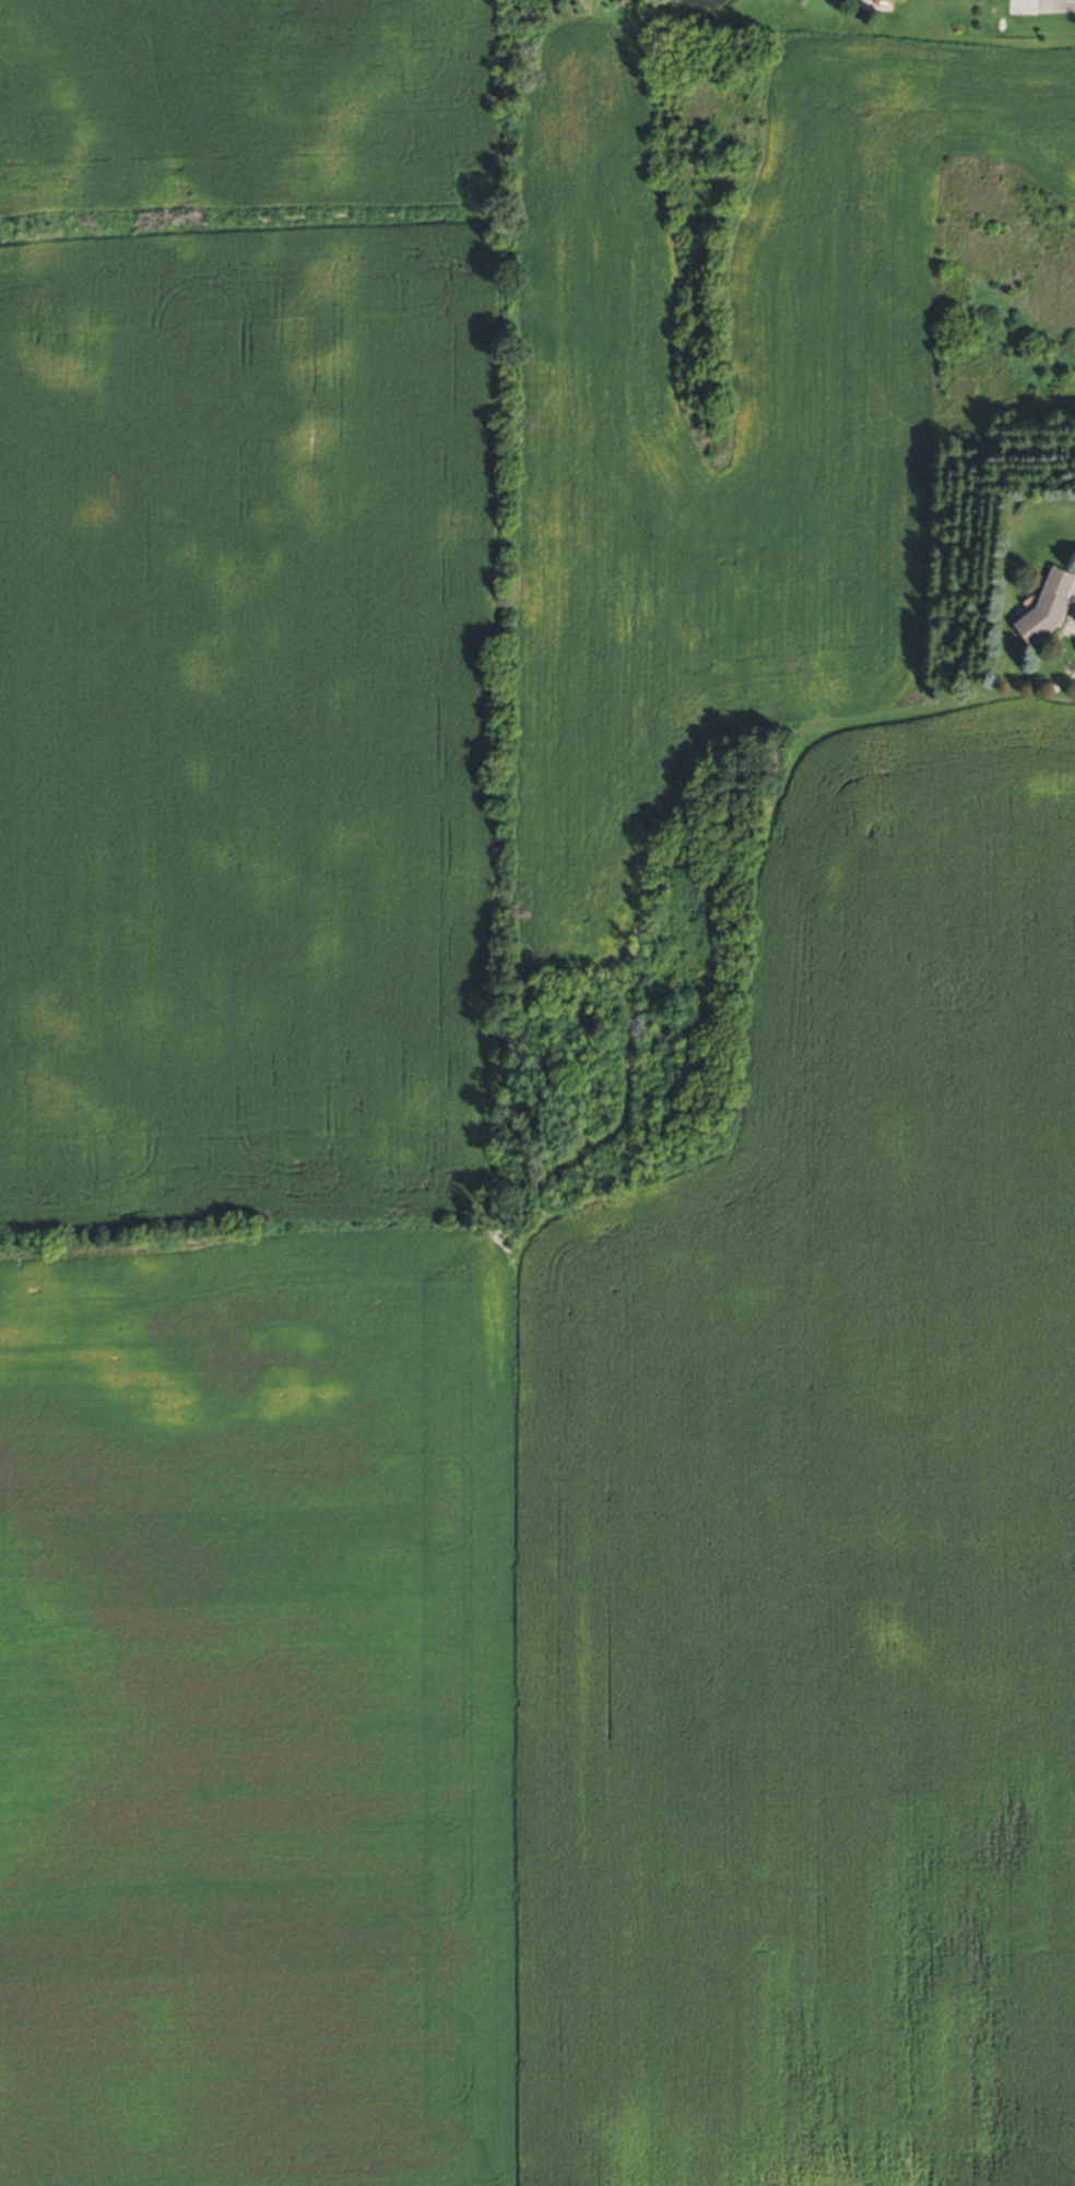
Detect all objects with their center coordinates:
road: (1064, 3)
building: (1042, 610)

